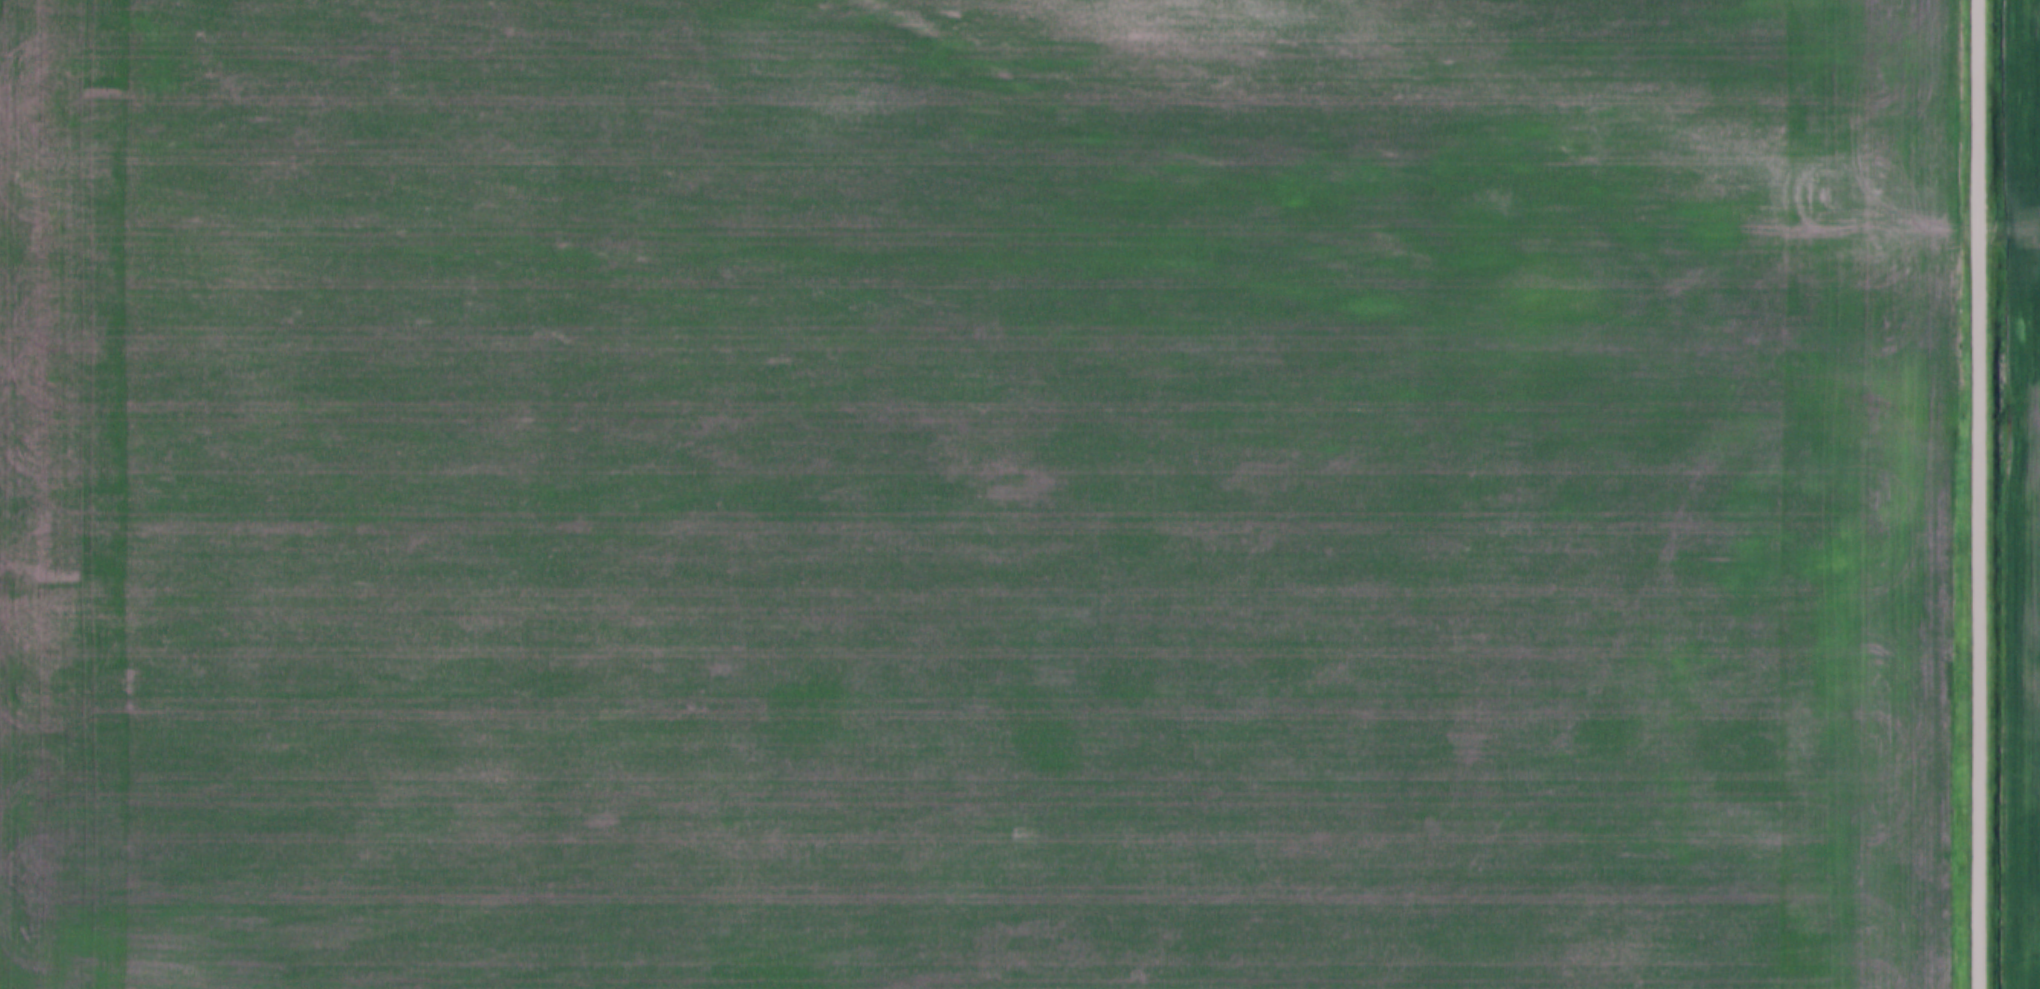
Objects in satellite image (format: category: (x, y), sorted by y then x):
road: (1984, 494)

